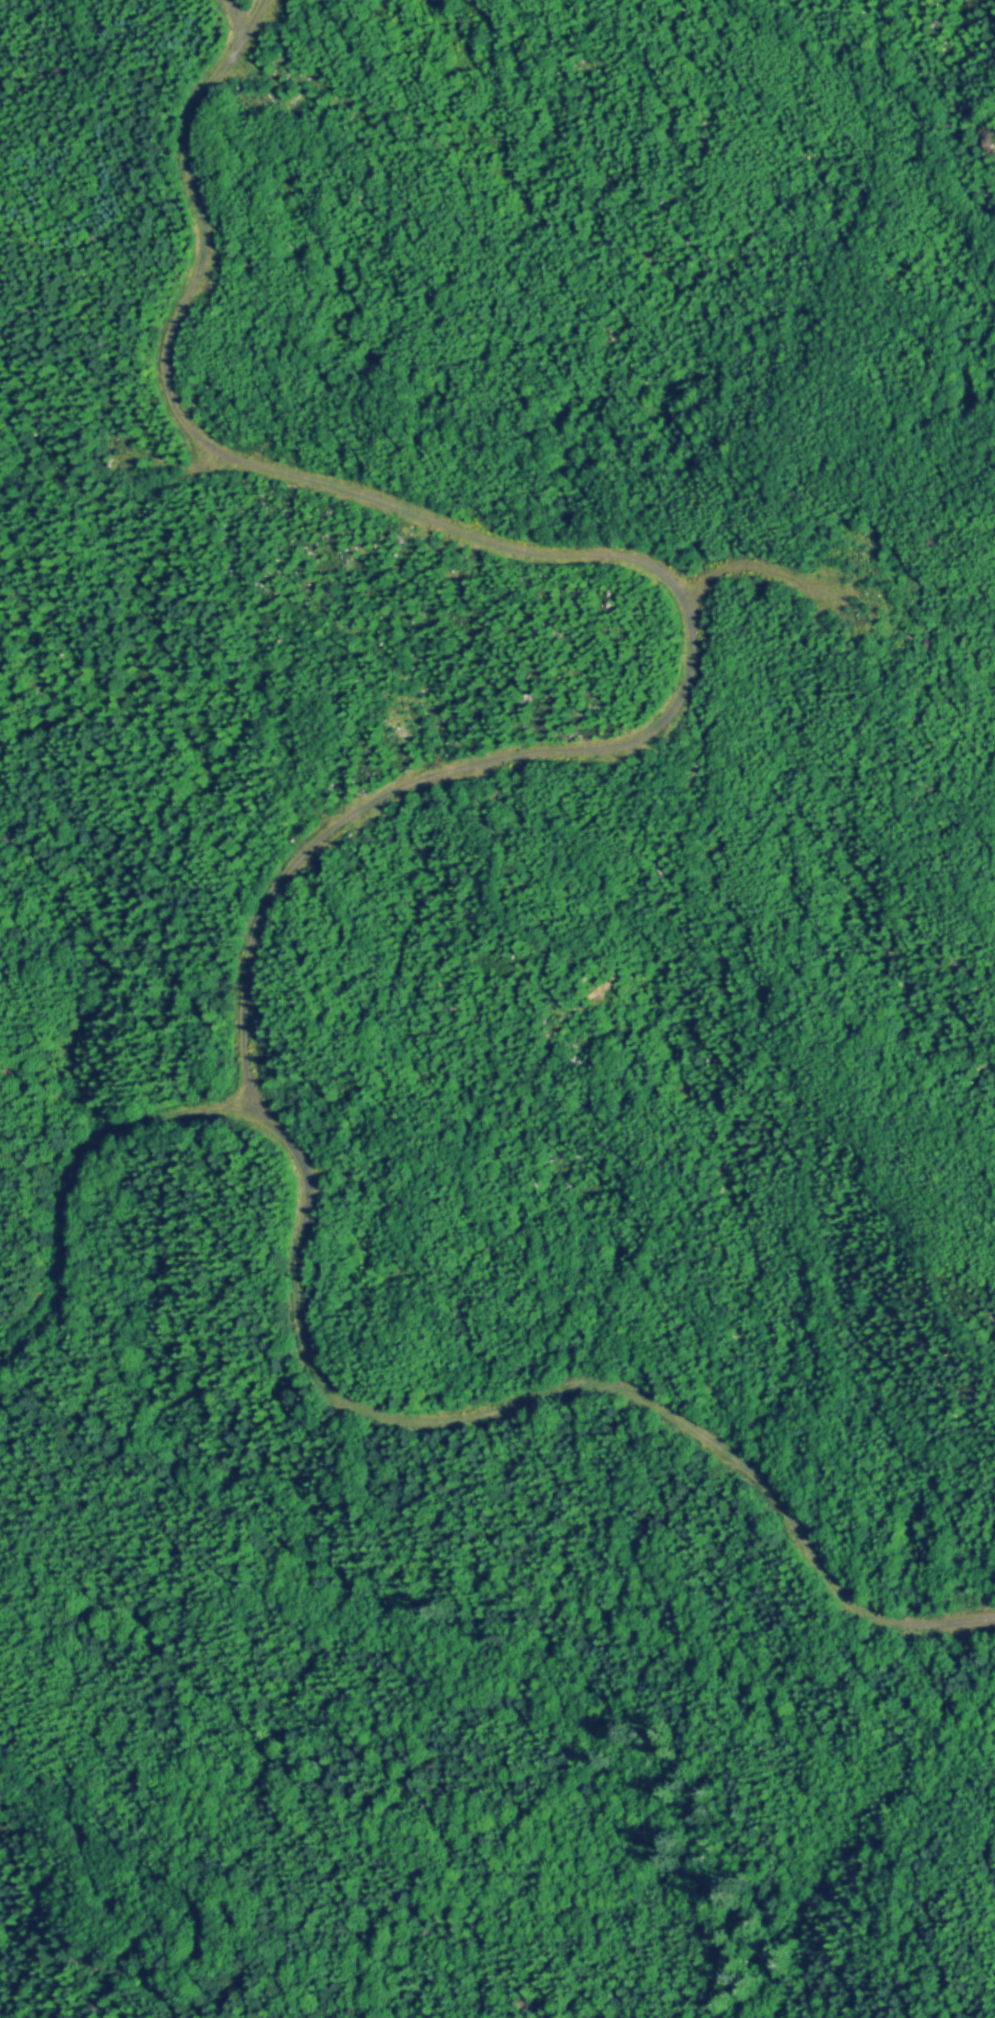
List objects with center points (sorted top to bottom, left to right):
road: (243, 15)
road: (695, 714)
road: (542, 1393)

